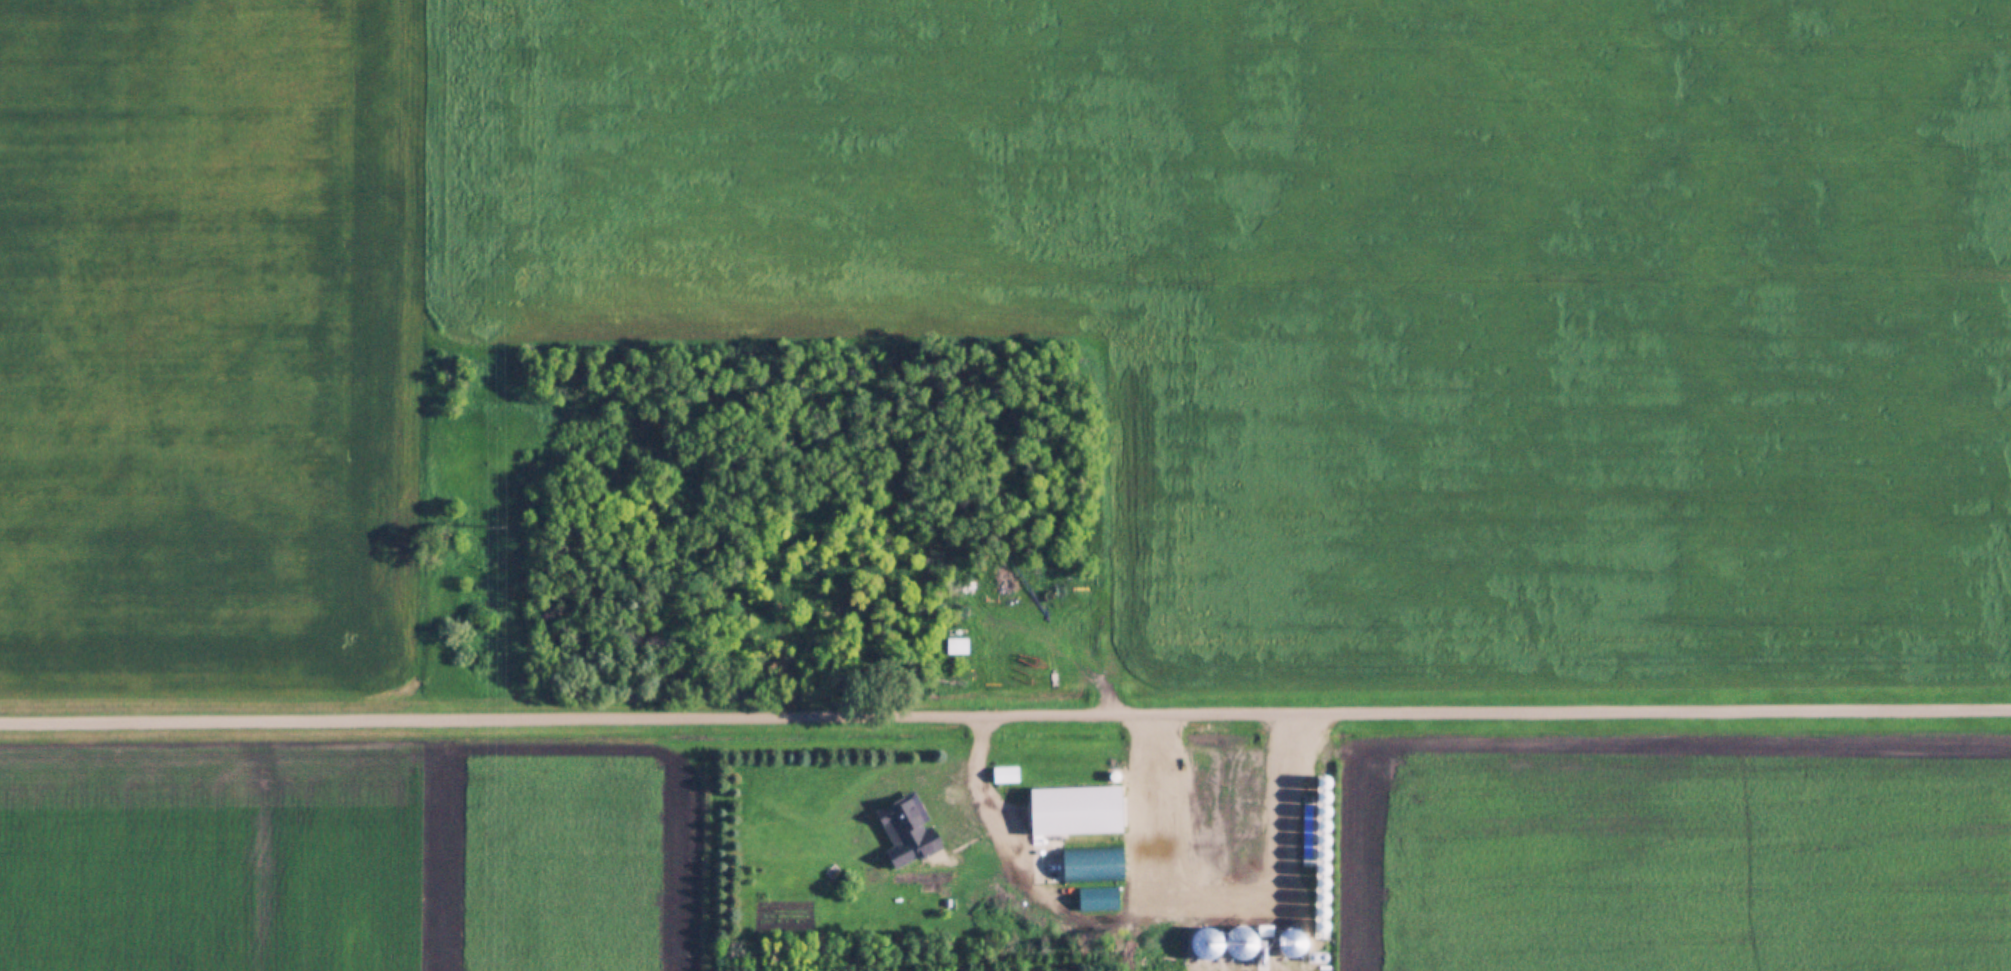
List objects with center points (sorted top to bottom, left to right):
power tower: (501, 525)
road: (1005, 712)
road: (980, 803)

